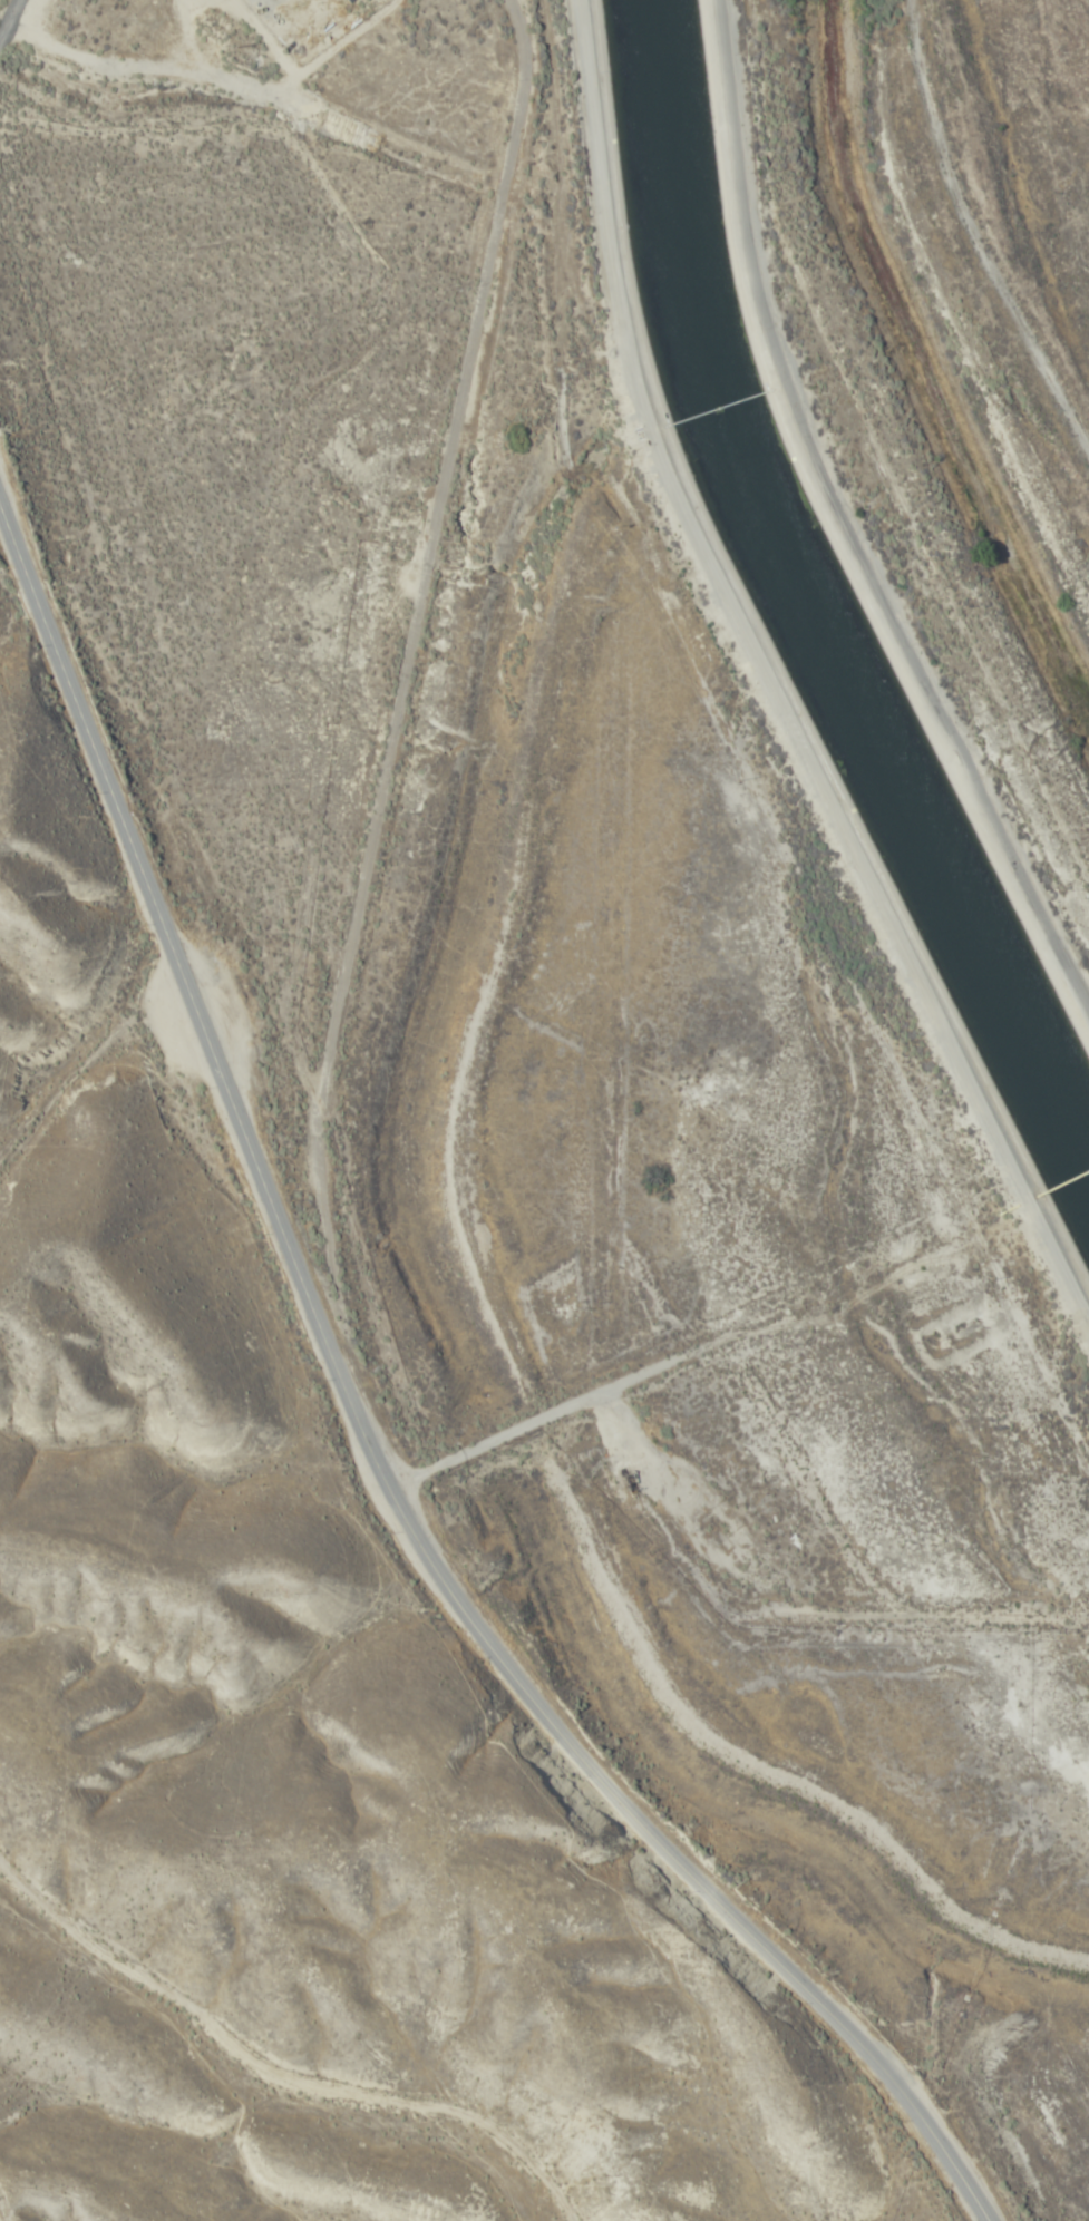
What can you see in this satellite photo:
road: (945, 282)
road: (844, 524)
road: (402, 679)
road: (768, 680)
road: (96, 1122)
road: (368, 1435)
crop: (477, 1565)
road: (312, 2020)

